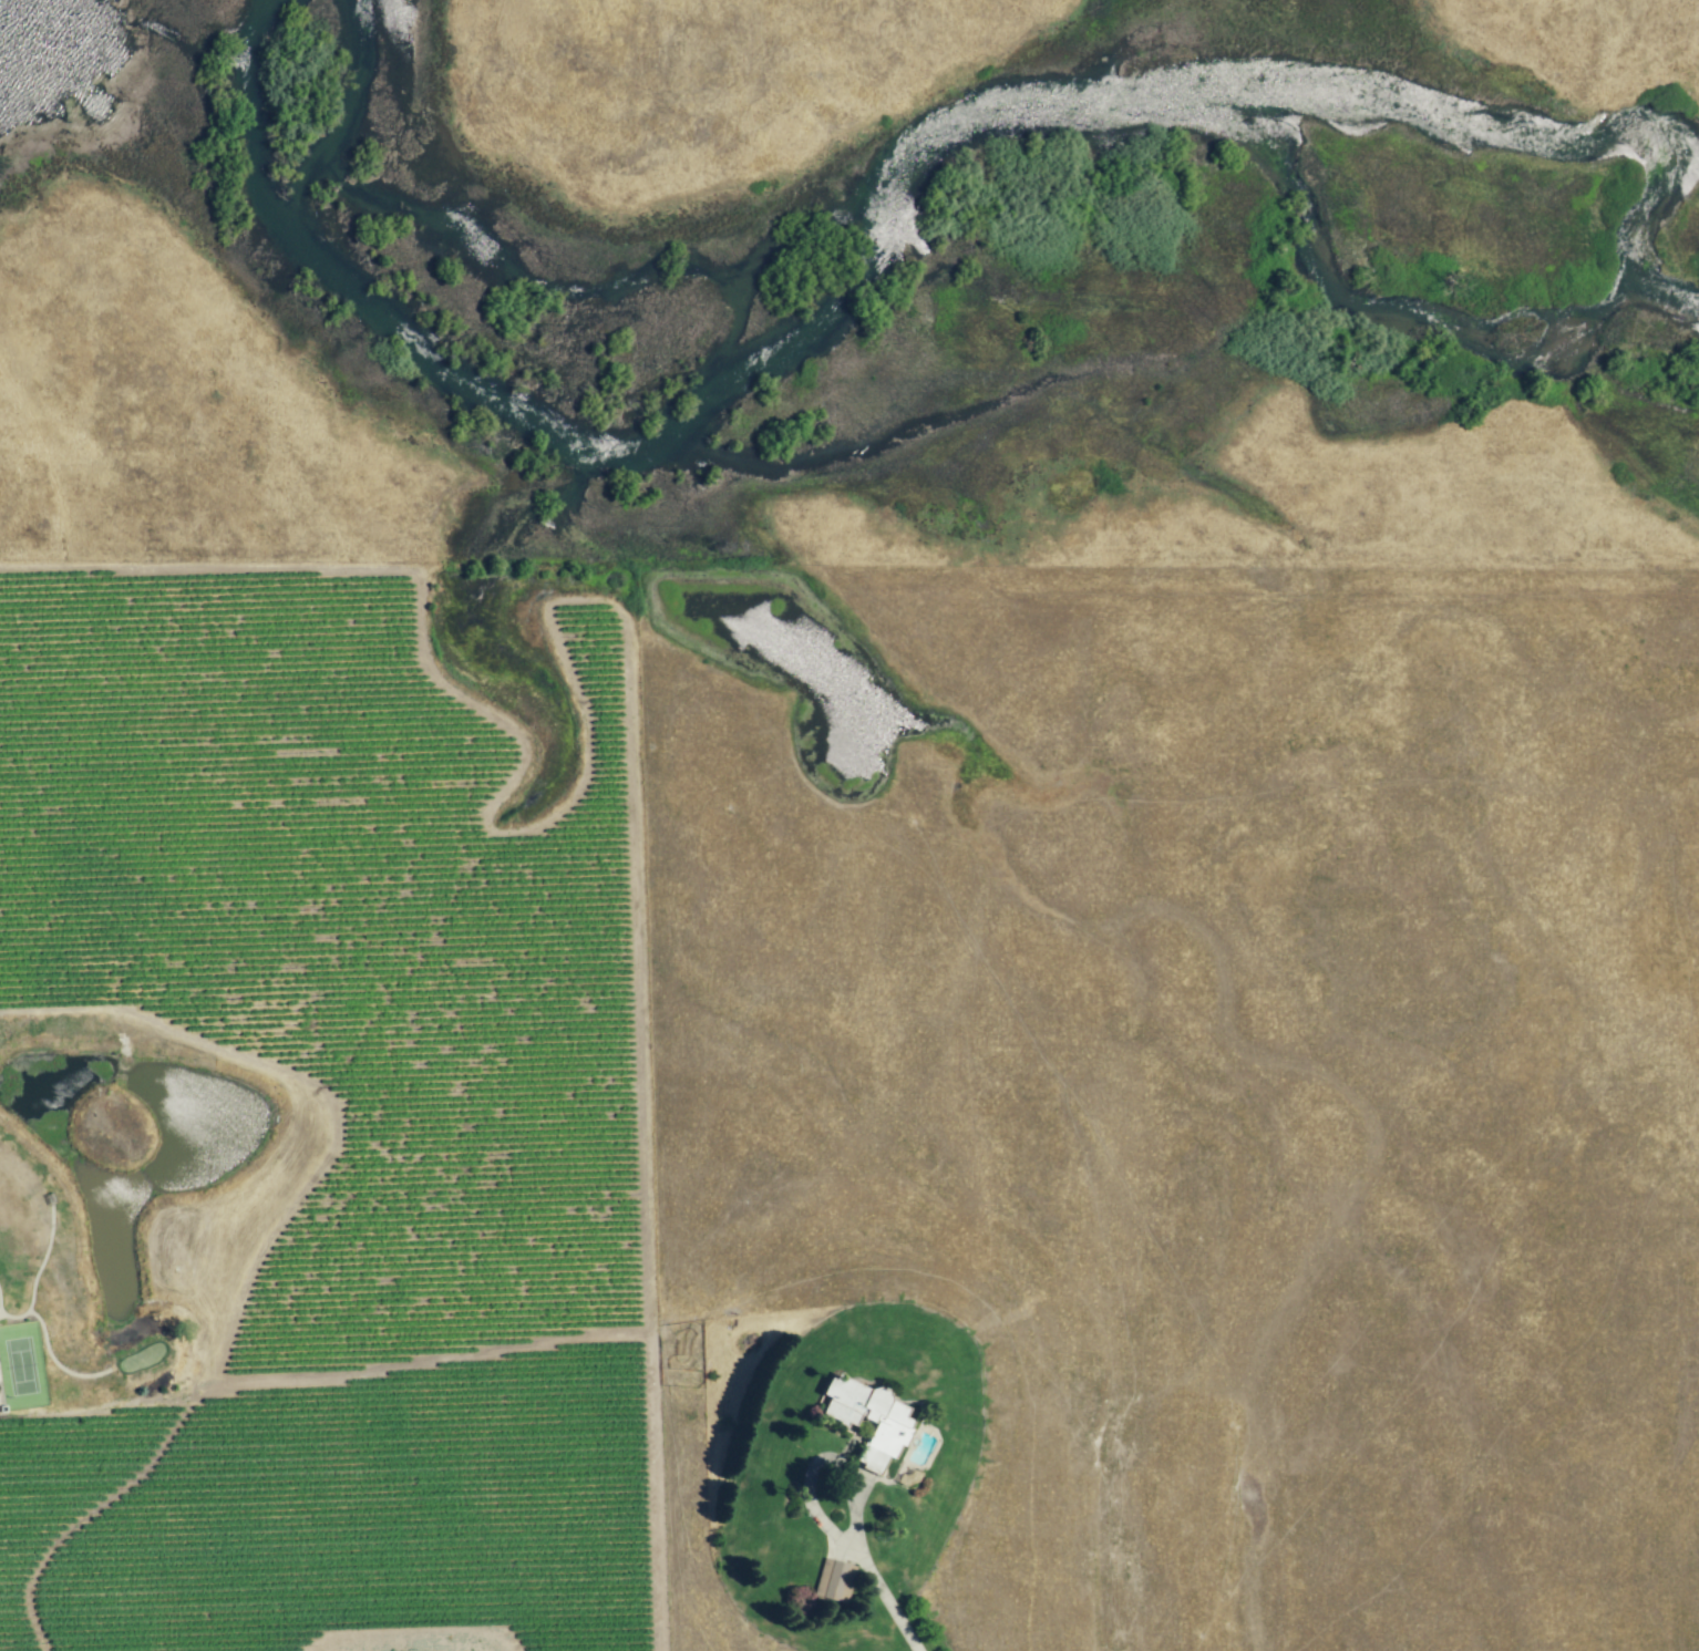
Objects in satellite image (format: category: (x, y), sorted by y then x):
crop: (341, 1124)
building: (861, 1418)
road: (869, 1571)
building: (832, 1580)

